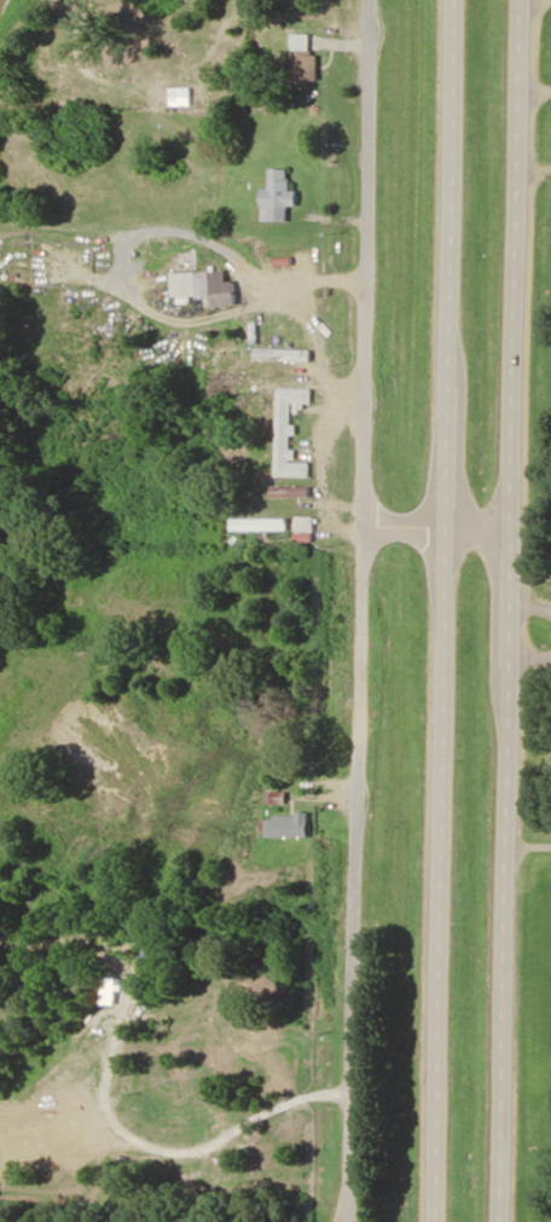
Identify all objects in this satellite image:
building: (306, 66)
building: (280, 198)
road: (185, 234)
building: (204, 286)
road: (298, 344)
building: (284, 441)
building: (261, 525)
road: (458, 526)
building: (306, 529)
road: (365, 610)
road: (447, 610)
road: (514, 610)
building: (294, 826)
road: (352, 1206)

